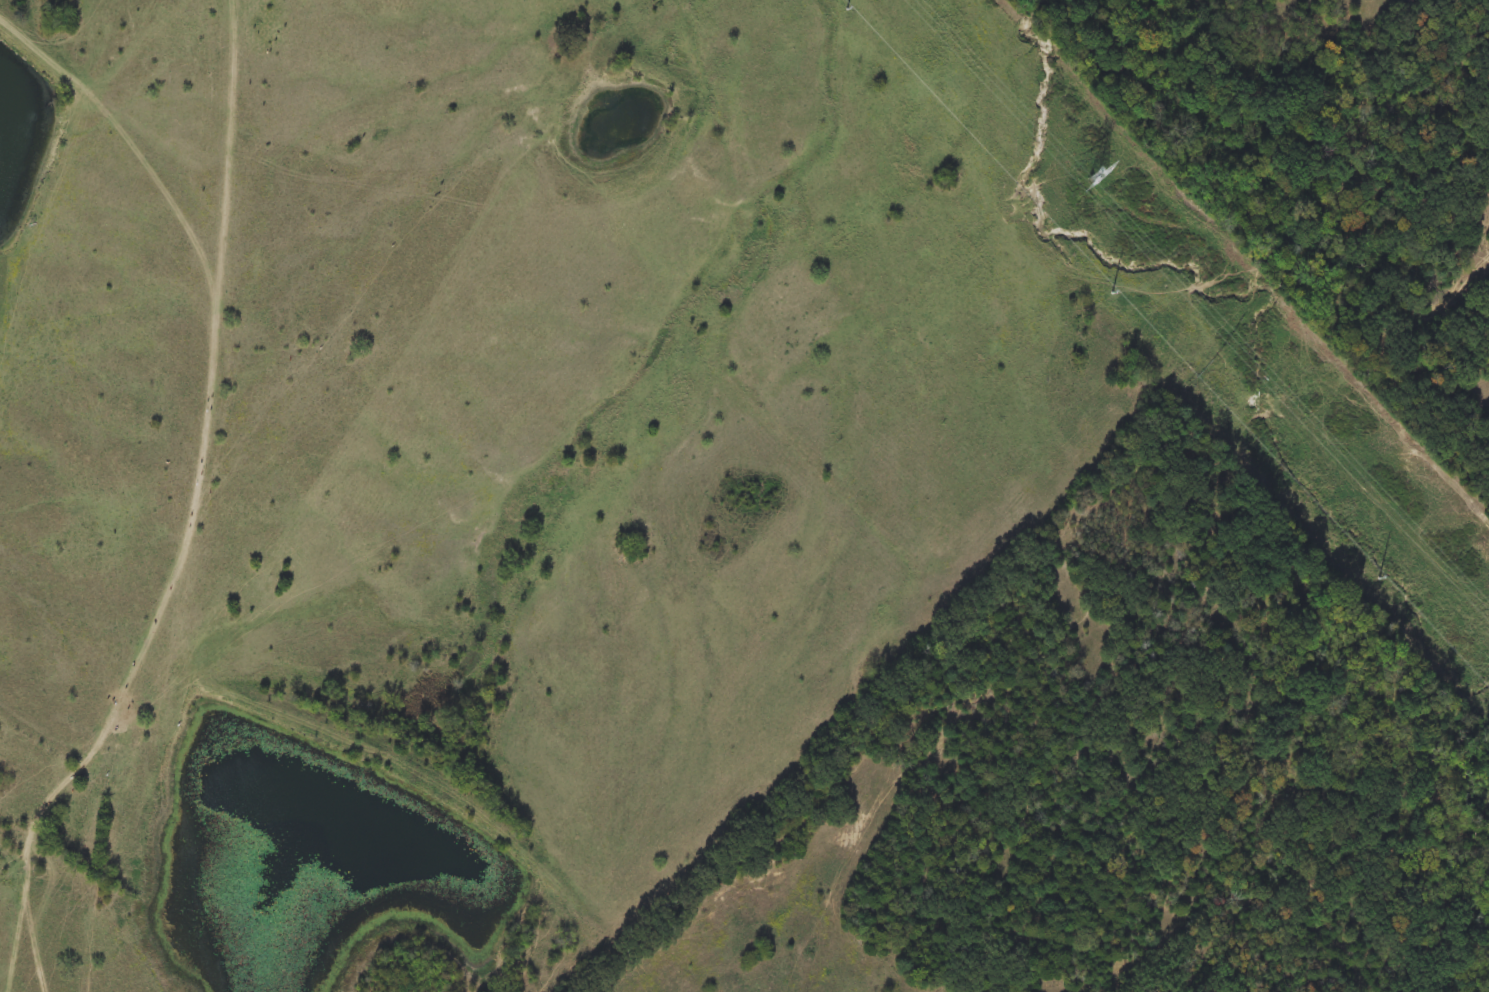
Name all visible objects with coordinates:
power tower: (1092, 174)

